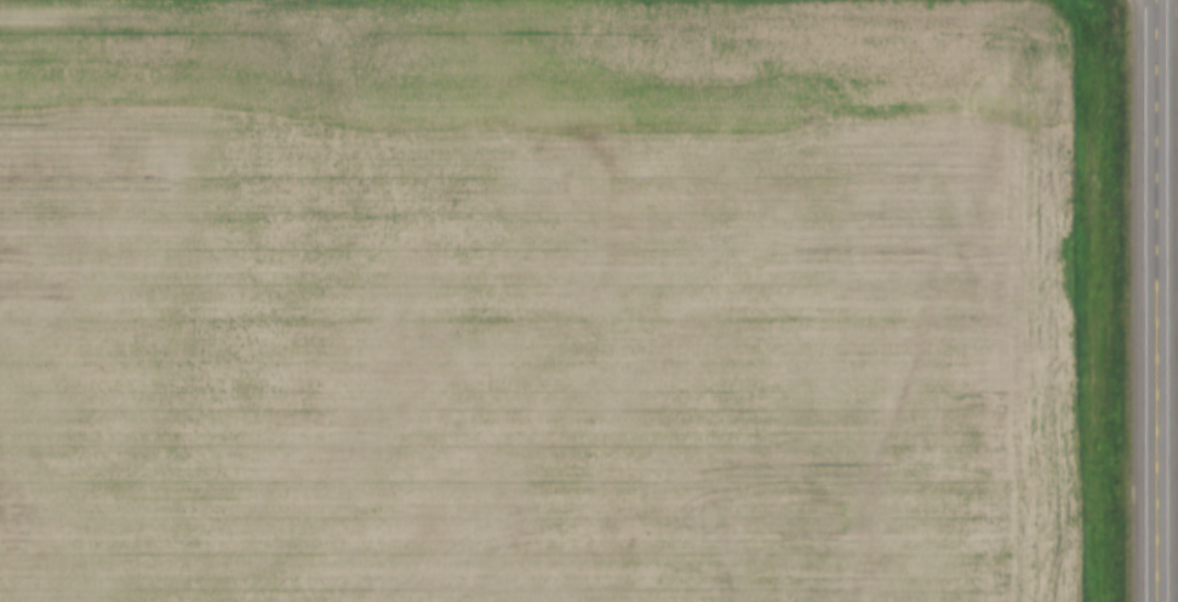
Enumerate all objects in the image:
road: (1170, 300)

